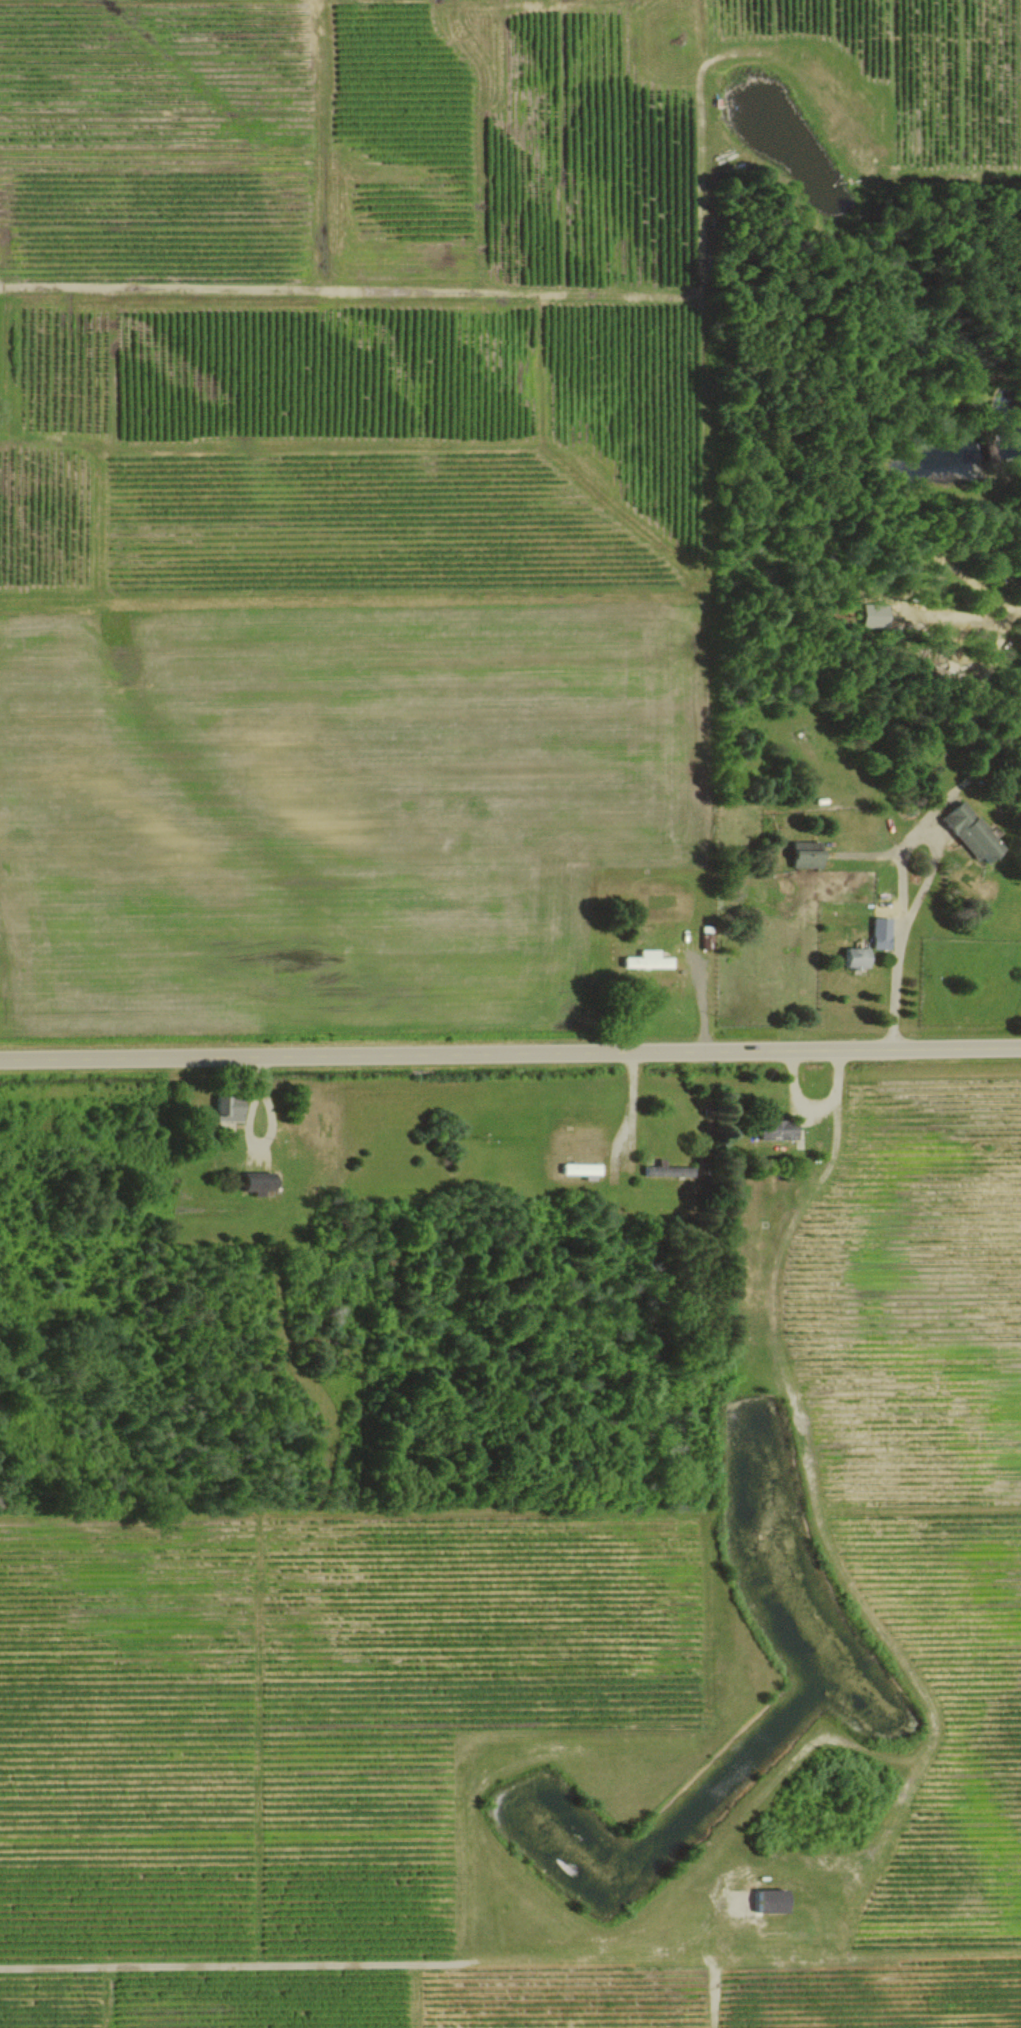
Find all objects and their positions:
building: (871, 614)
road: (962, 619)
building: (967, 832)
building: (801, 854)
road: (893, 883)
building: (877, 932)
building: (705, 936)
building: (852, 957)
building: (644, 960)
road: (705, 996)
road: (510, 1051)
road: (630, 1103)
building: (225, 1109)
building: (775, 1129)
building: (578, 1168)
building: (666, 1170)
building: (254, 1181)
building: (766, 1901)

